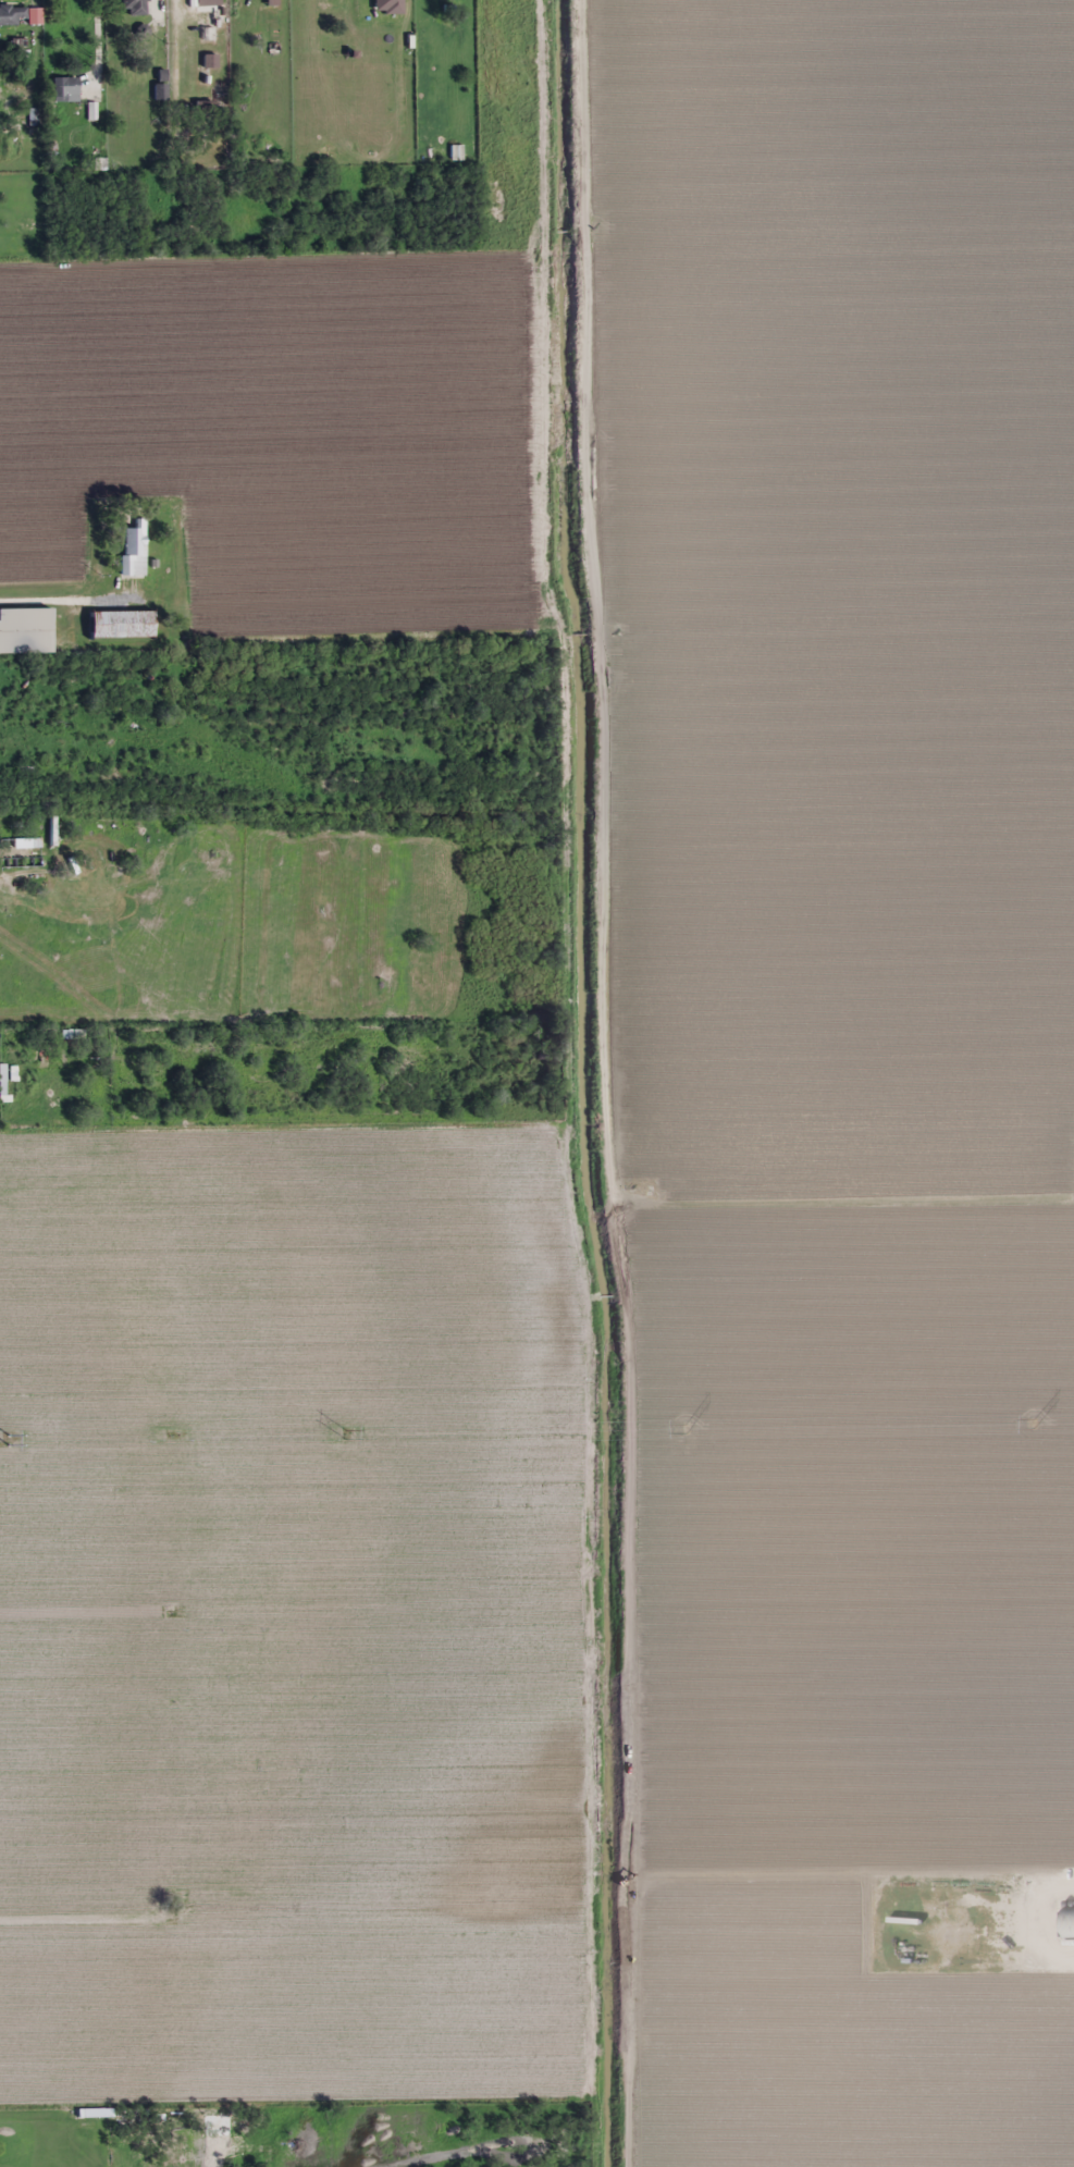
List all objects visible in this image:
building: (134, 8)
building: (11, 15)
building: (64, 89)
building: (160, 93)
building: (134, 551)
road: (48, 588)
building: (120, 625)
building: (25, 631)
building: (20, 844)
power tower: (1041, 1424)
power tower: (689, 1428)
power tower: (335, 1435)
building: (1020, 1891)
building: (1066, 1923)

